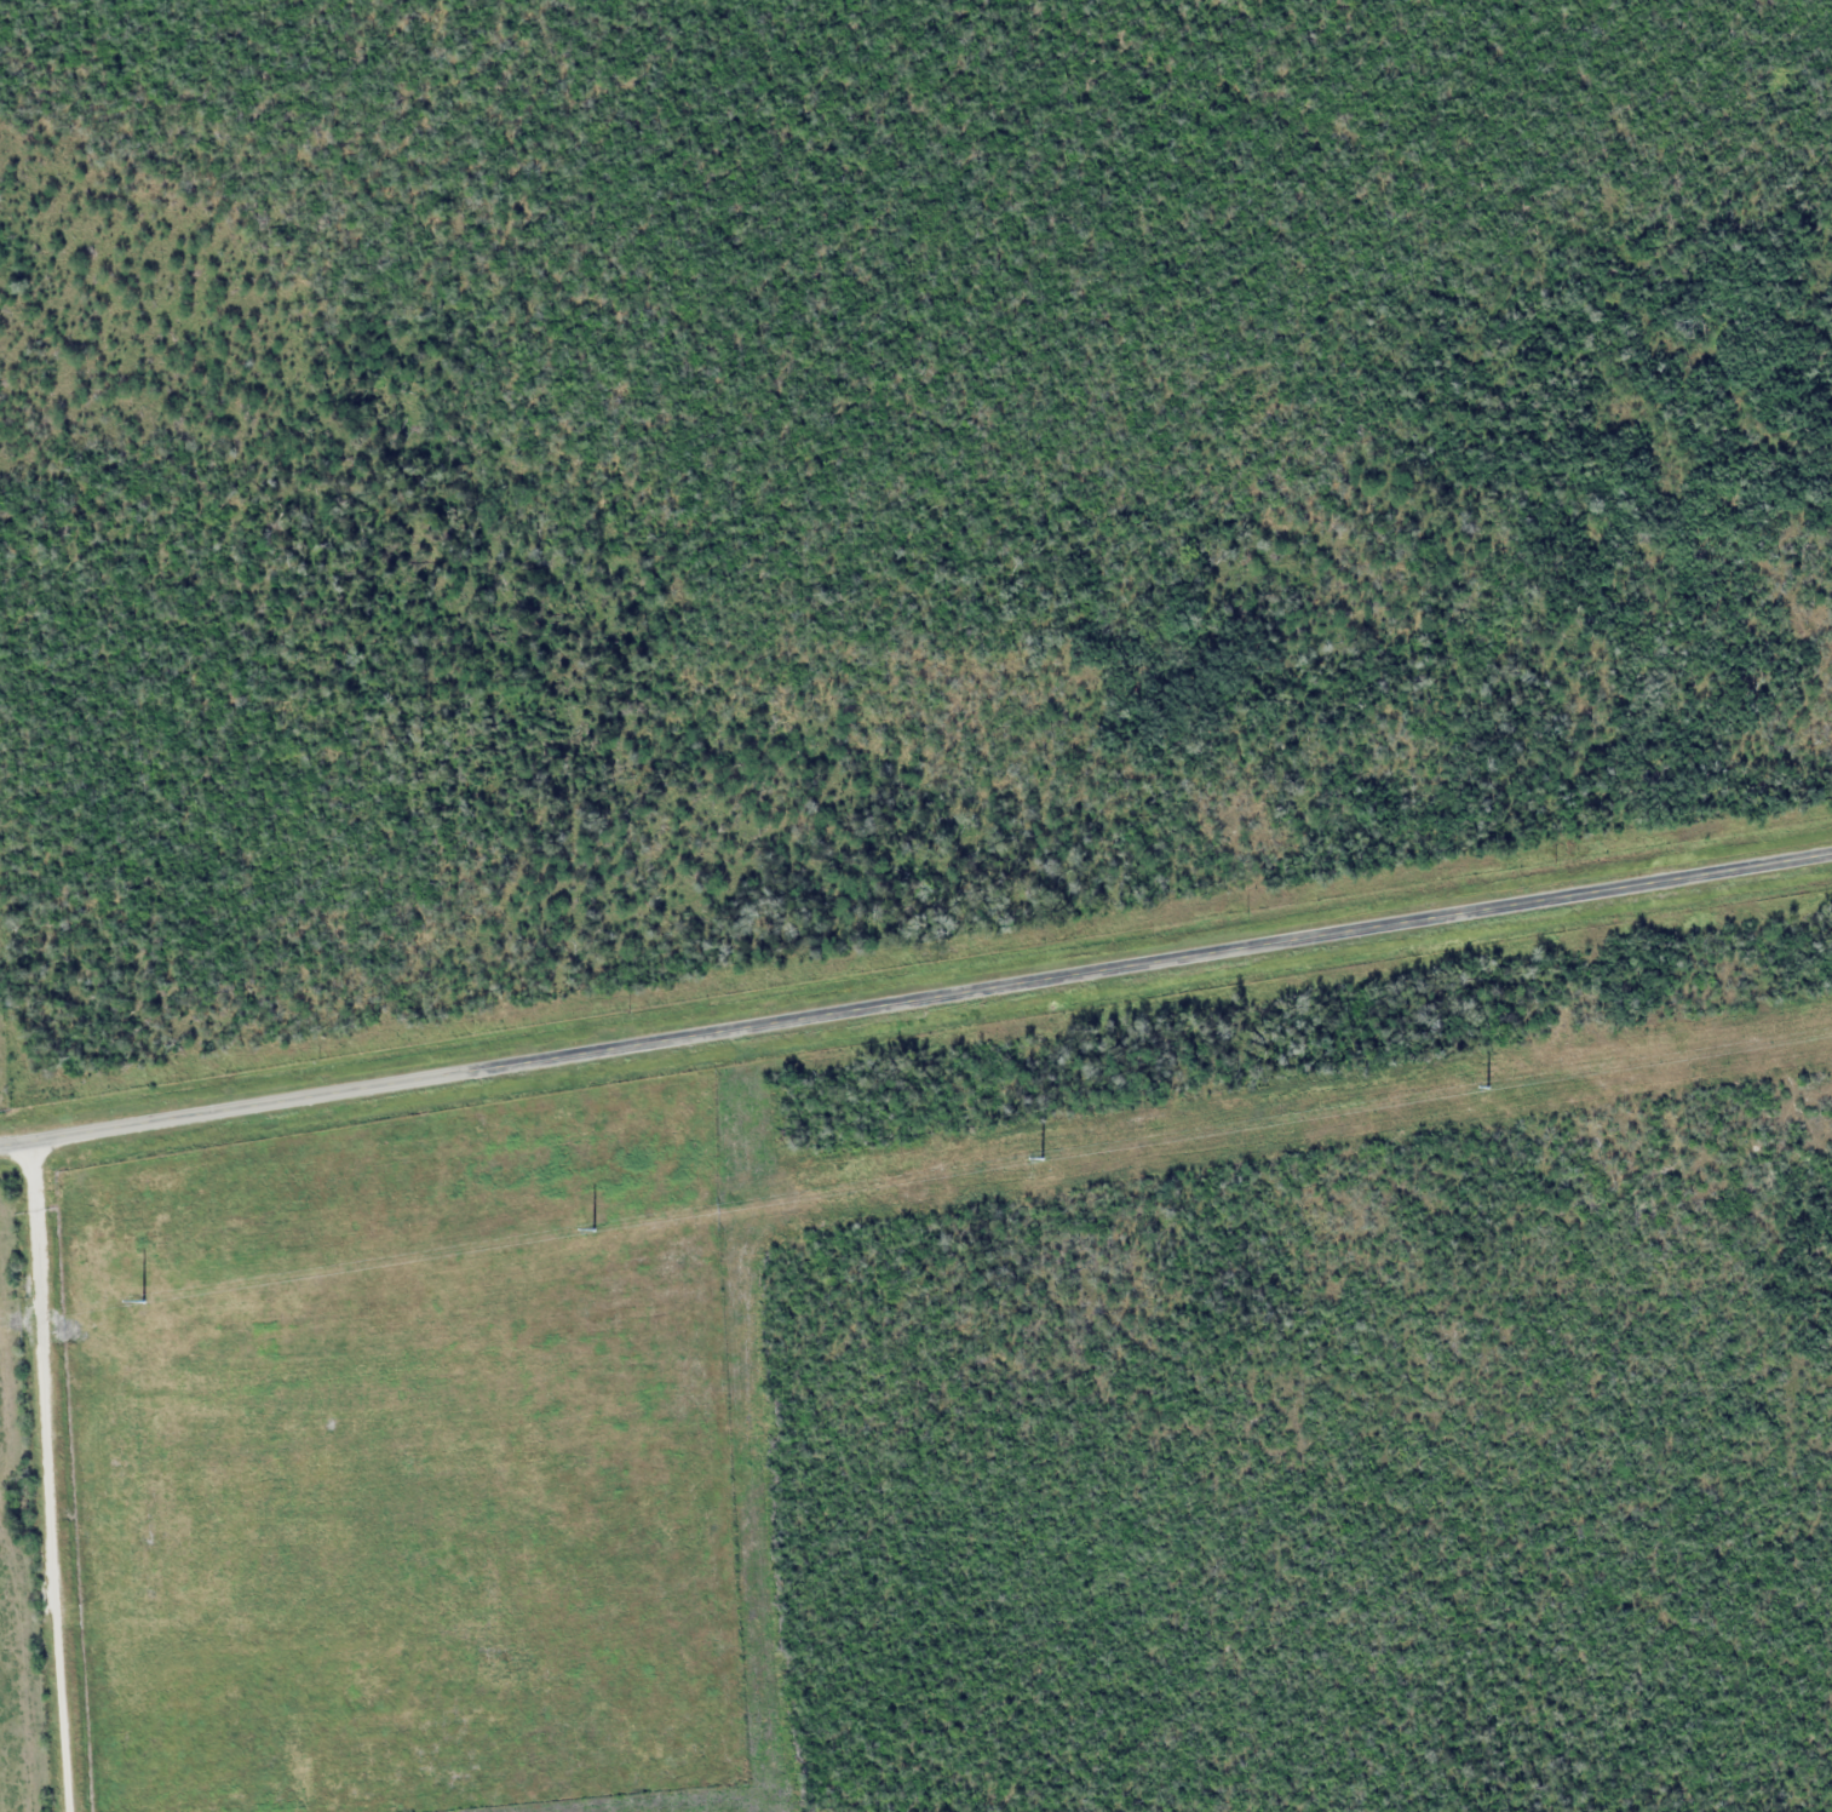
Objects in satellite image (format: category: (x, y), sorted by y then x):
road: (914, 996)
power tower: (1475, 1089)
power tower: (1028, 1160)
power tower: (581, 1232)
power tower: (130, 1302)
road: (41, 1479)

